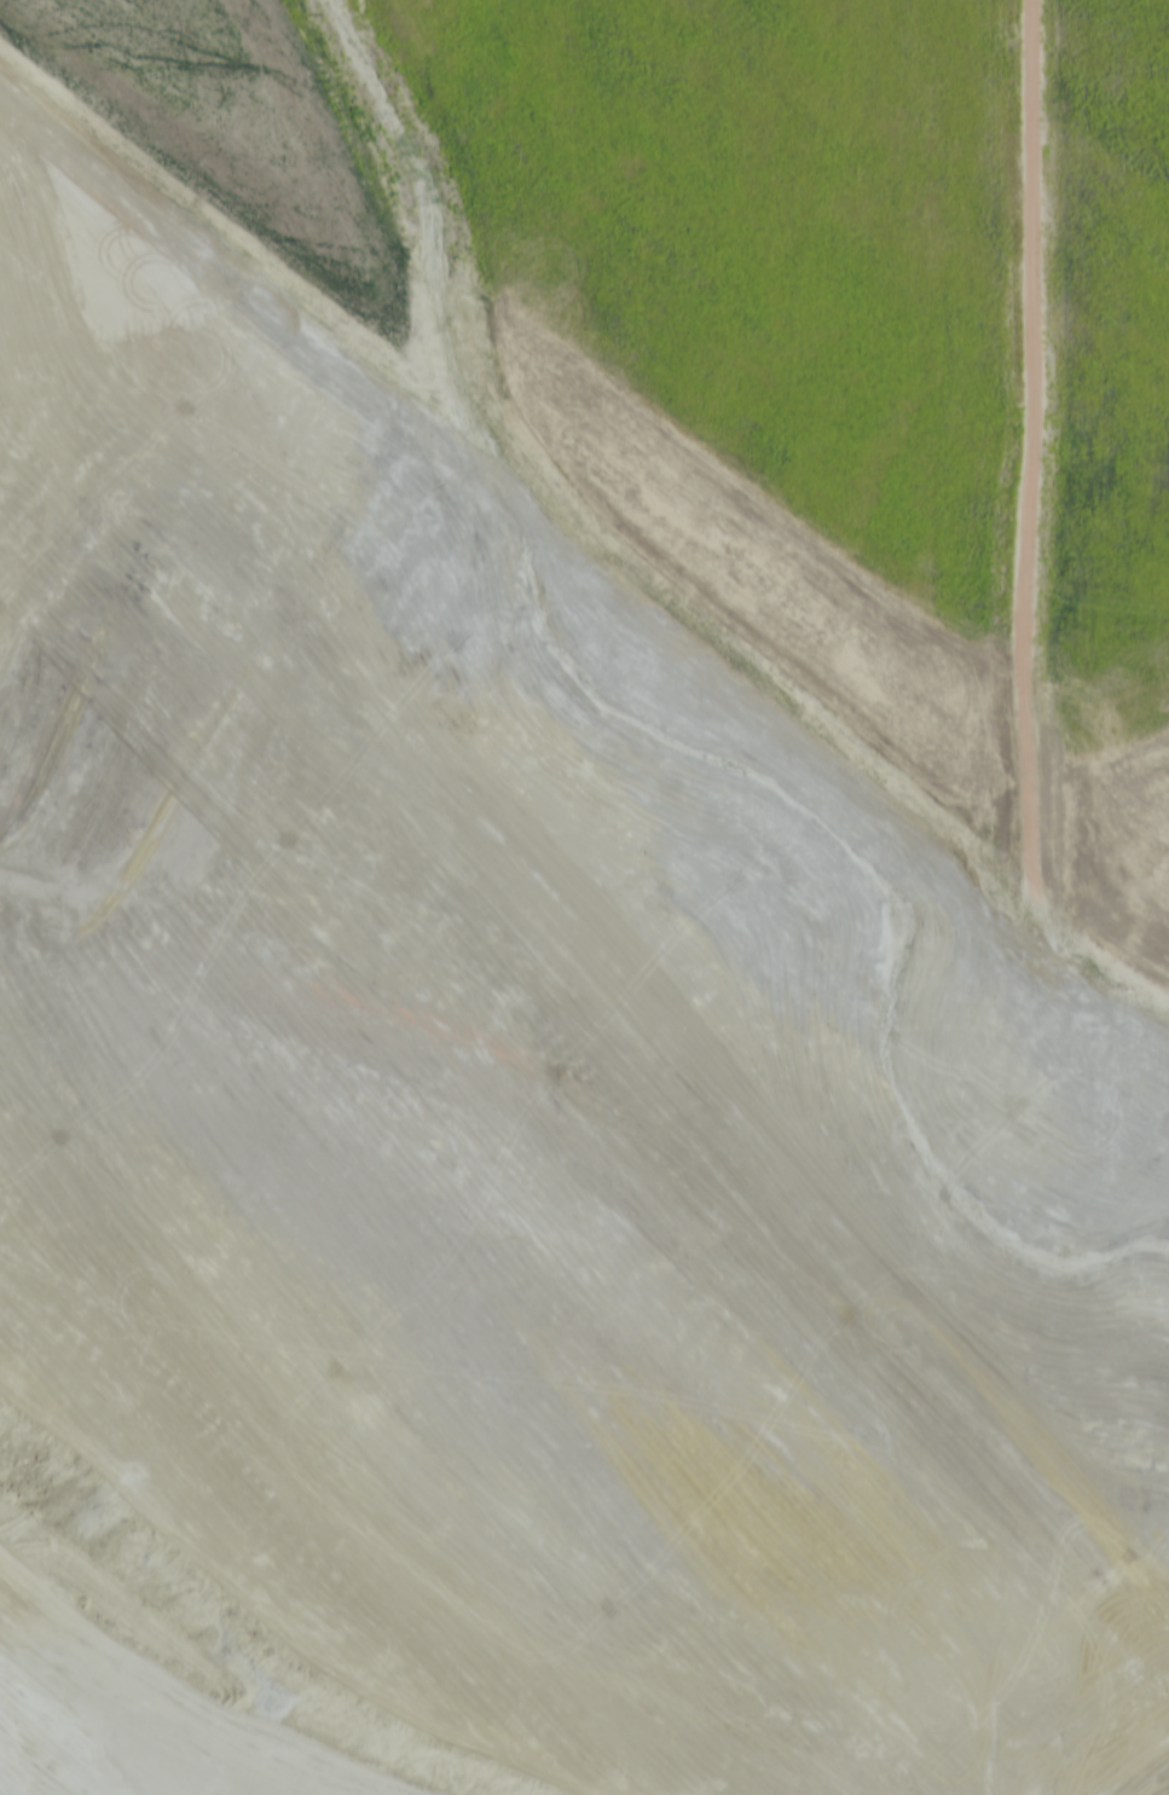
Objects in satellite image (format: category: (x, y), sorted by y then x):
building: (123, 1788)

